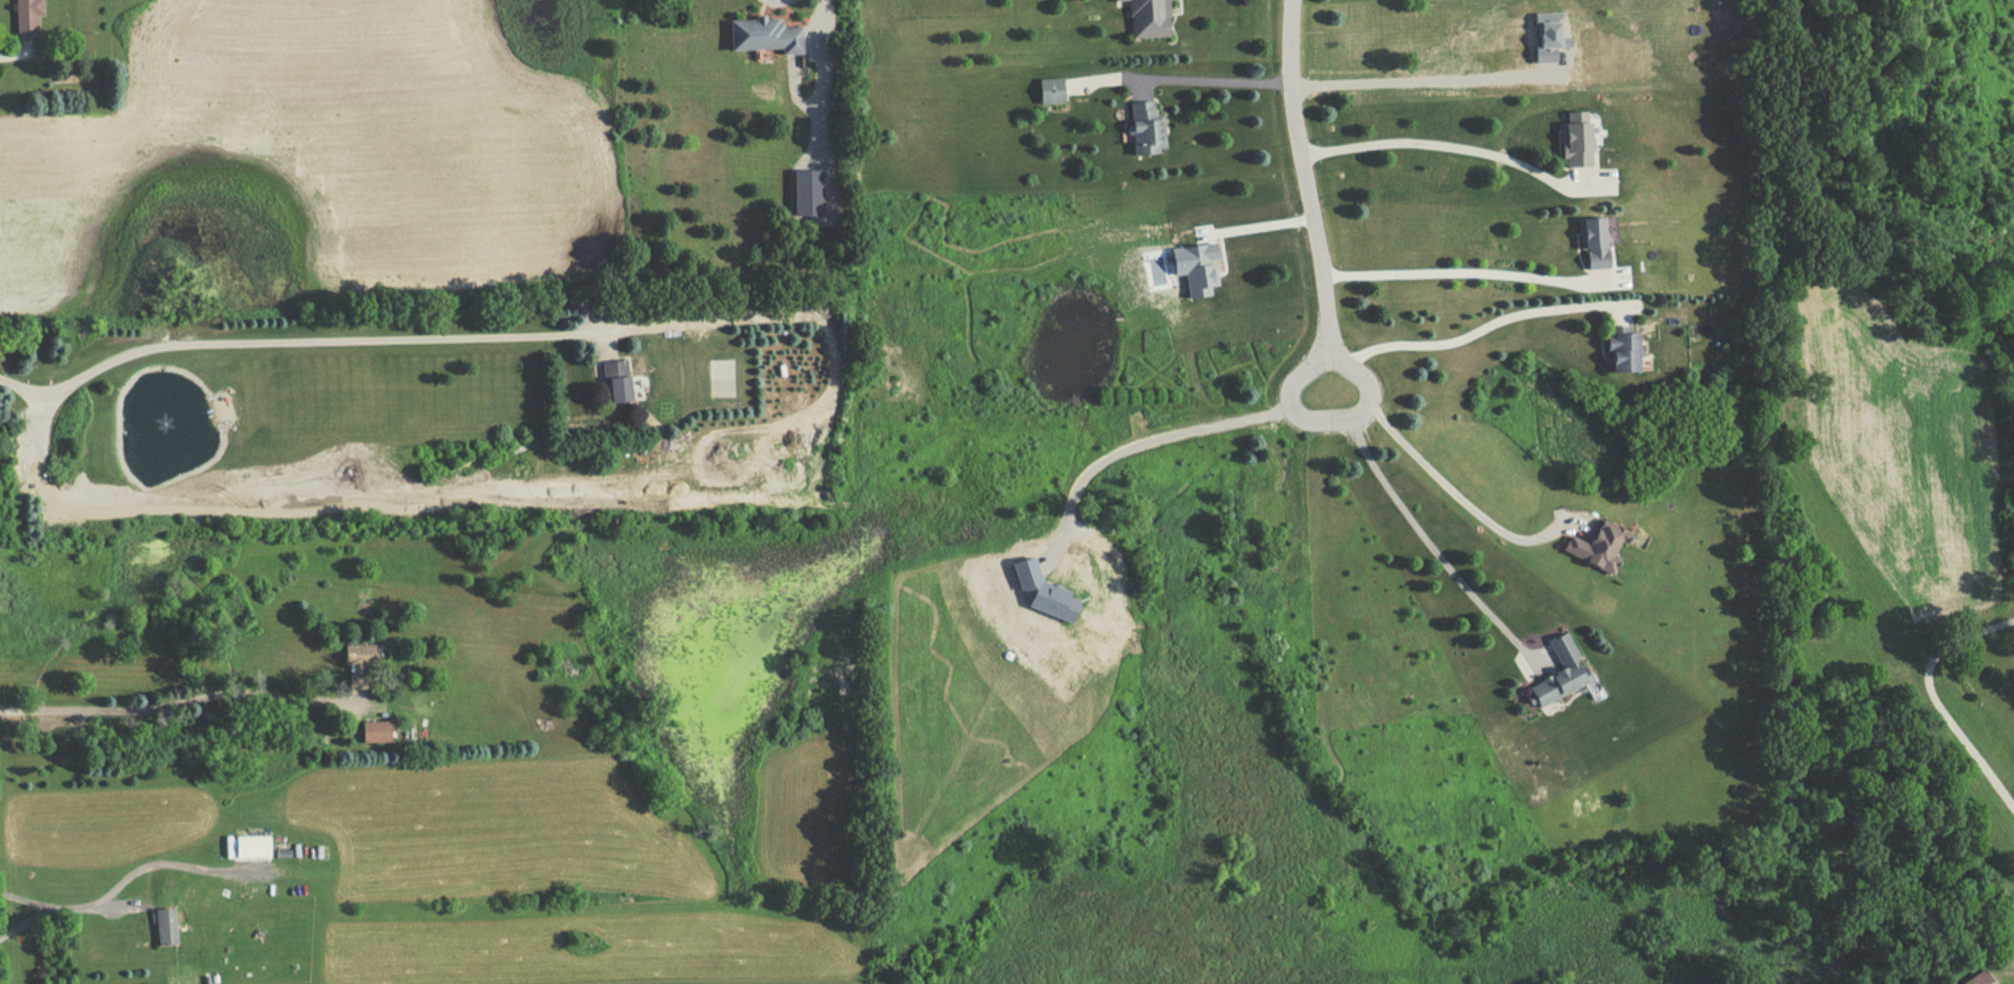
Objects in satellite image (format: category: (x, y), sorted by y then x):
building: (29, 17)
road: (824, 17)
building: (1149, 18)
building: (767, 35)
road: (1206, 79)
road: (1418, 84)
building: (1051, 91)
building: (1146, 128)
crop: (324, 142)
building: (1578, 144)
road: (1435, 146)
road: (1307, 191)
road: (1257, 219)
building: (1596, 242)
road: (1445, 266)
road: (1466, 330)
road: (292, 340)
building: (1626, 349)
building: (619, 379)
road: (1156, 439)
road: (1438, 481)
road: (1404, 515)
building: (1599, 546)
building: (1557, 669)
building: (360, 671)
road: (1934, 701)
road: (179, 703)
building: (376, 732)
road: (66, 910)
road: (24, 924)
building: (167, 926)
building: (1980, 977)

